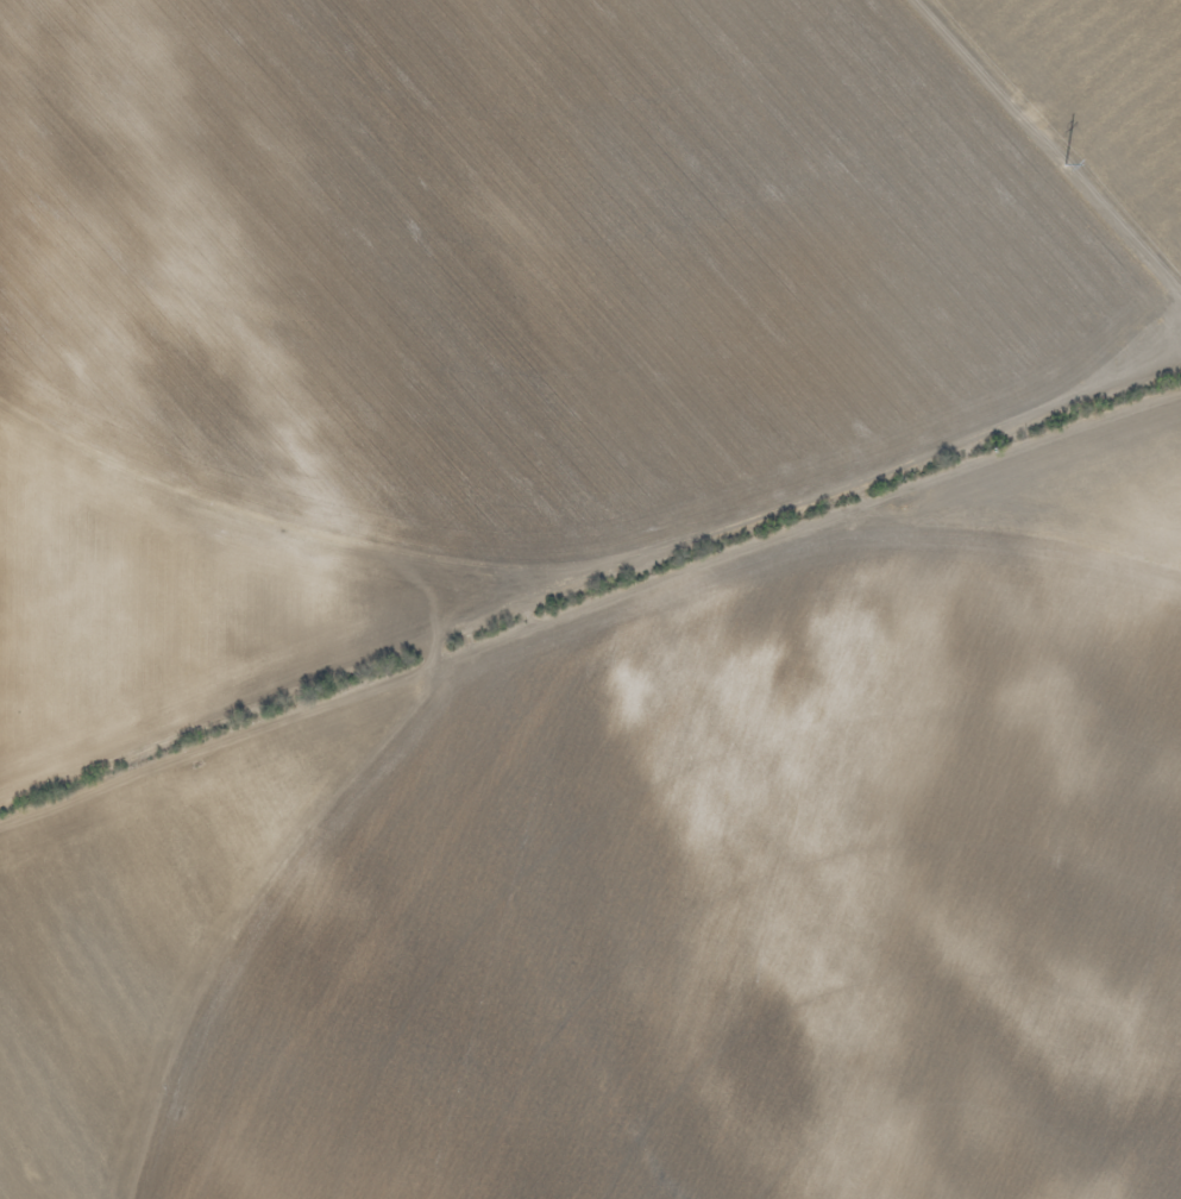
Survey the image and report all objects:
power tower: (1070, 174)

